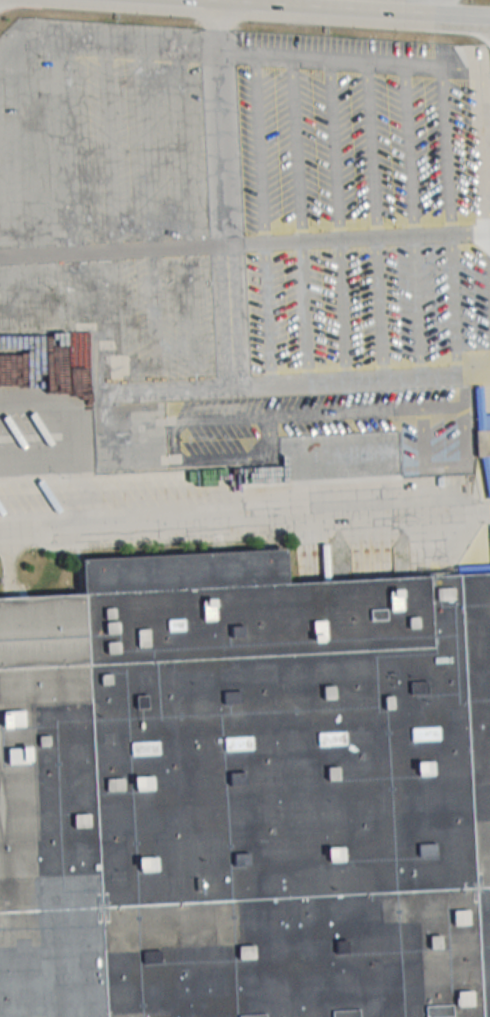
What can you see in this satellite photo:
road: (414, 0)
road: (345, 9)
road: (234, 244)
road: (245, 524)
railway: (35, 625)
building: (245, 792)

